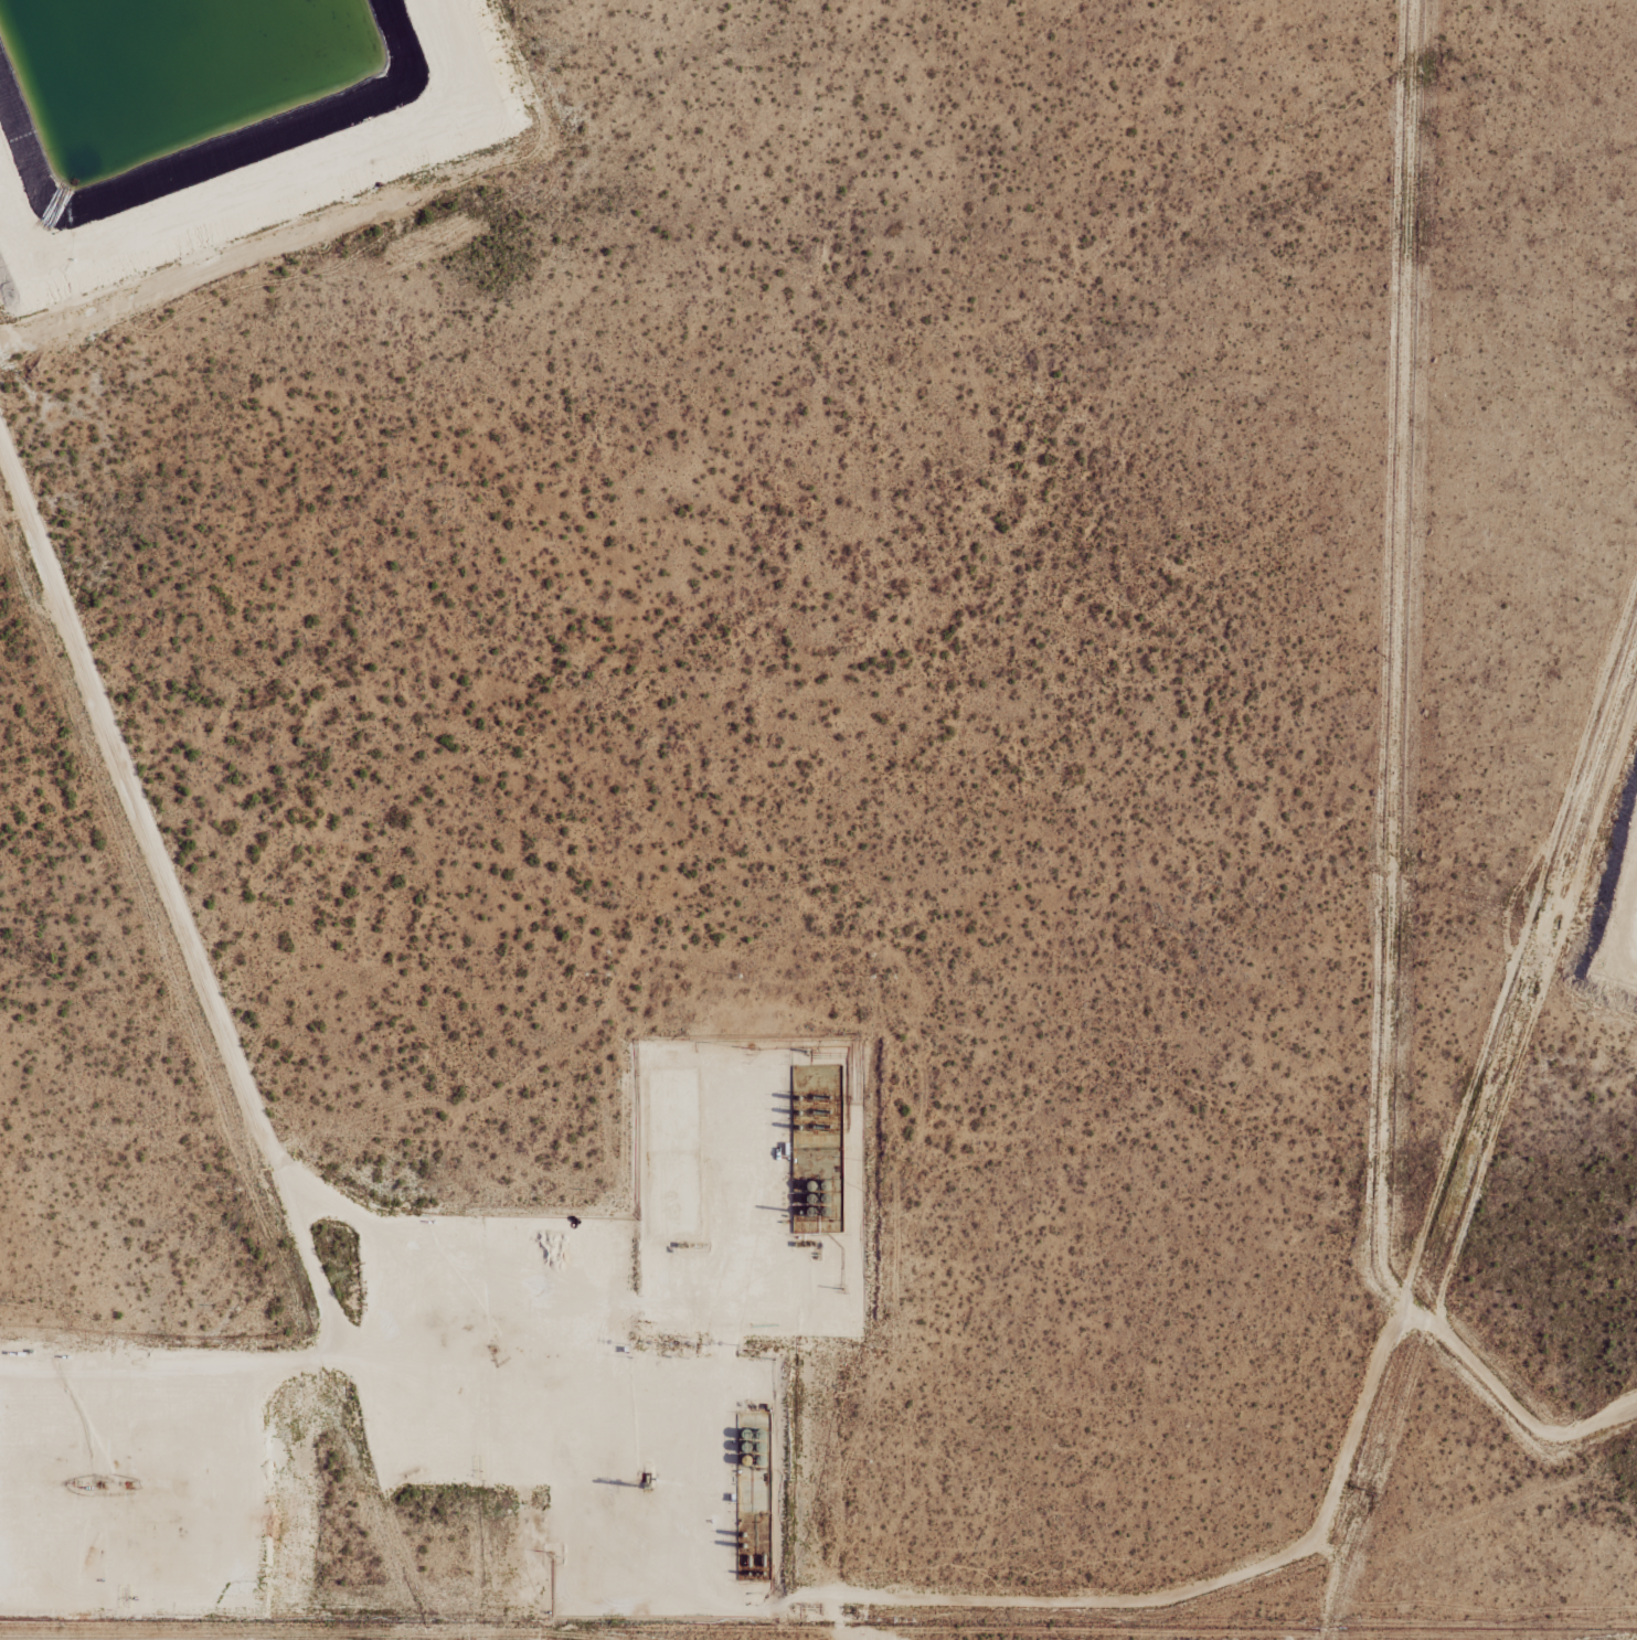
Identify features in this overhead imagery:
road: (285, 189)
road: (270, 1126)
petroleum well: (685, 1246)
road: (729, 1279)
petroleum well: (495, 1349)
petroleum well: (71, 1482)
petroleum well: (99, 1483)
petroleum well: (127, 1483)
petroleum well: (646, 1485)
road: (66, 1497)
road: (407, 1623)

